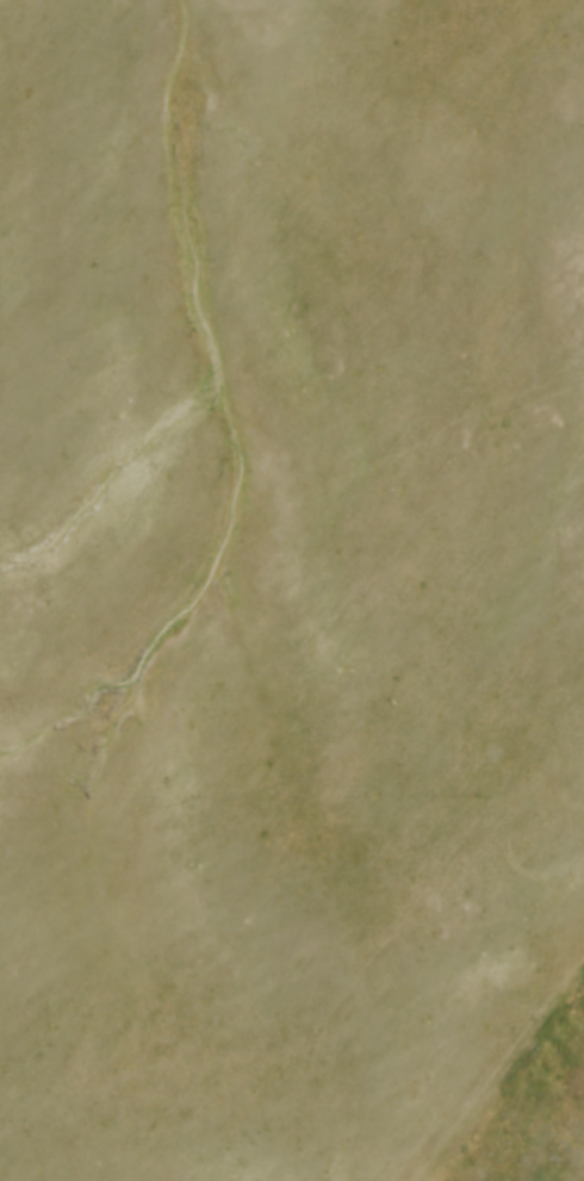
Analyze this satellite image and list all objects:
crop: (286, 578)

